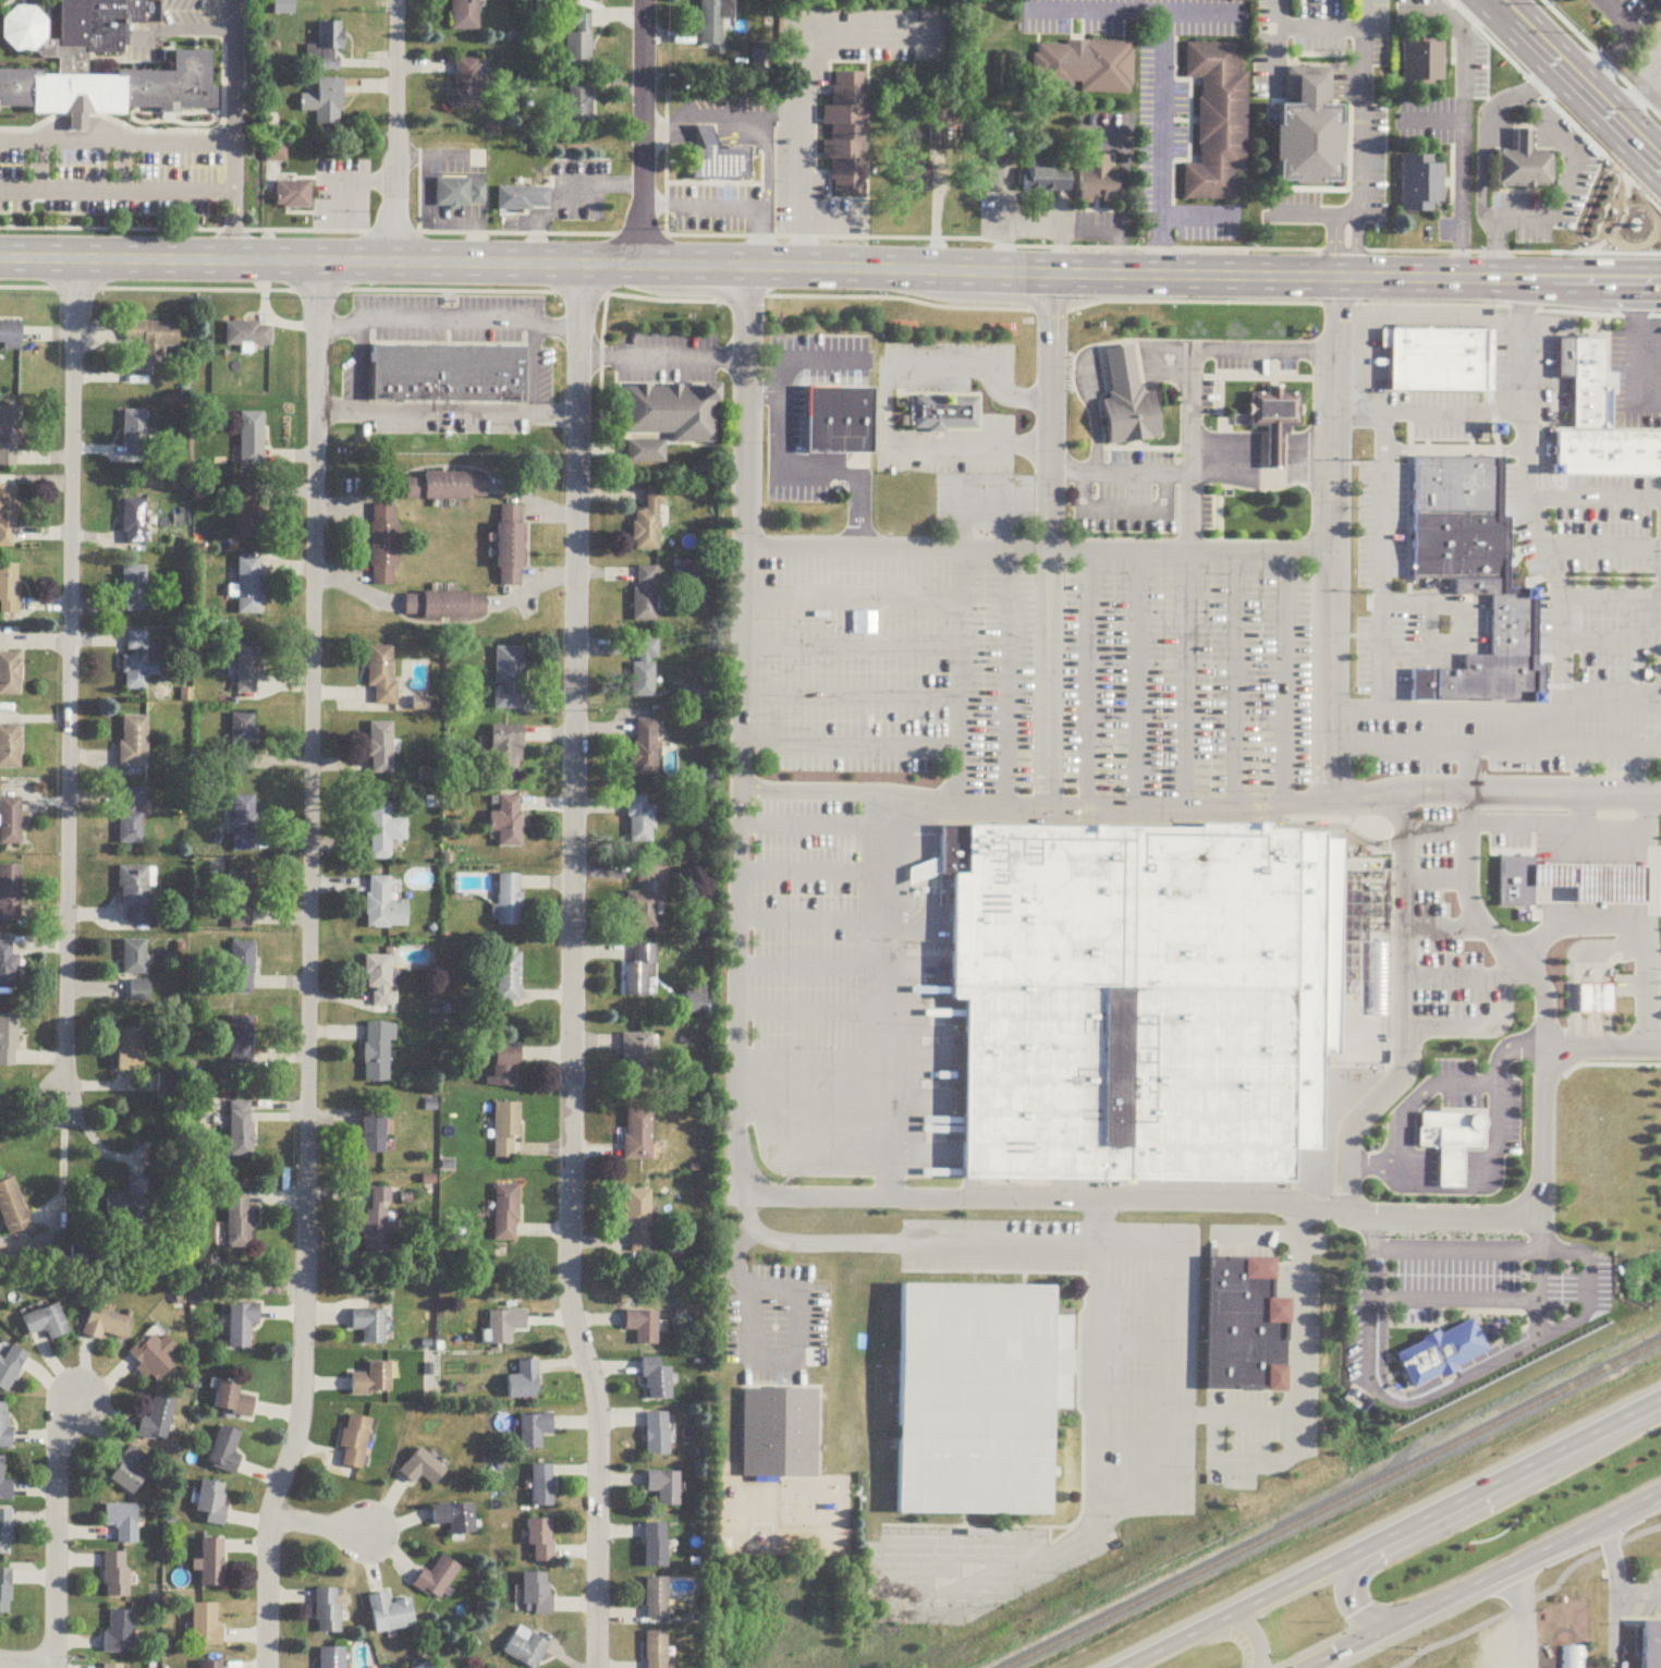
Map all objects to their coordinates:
building: (1644, 0)
road: (27, 1)
road: (5, 3)
road: (1101, 3)
road: (1462, 7)
building: (284, 8)
road: (1620, 10)
road: (1640, 10)
road: (1449, 12)
road: (1360, 13)
parking lot: (1622, 13)
building: (466, 15)
road: (50, 19)
building: (715, 20)
parking lot: (175, 25)
parking lot: (1449, 25)
building: (21, 26)
road: (1303, 26)
road: (181, 27)
building: (90, 31)
building: (579, 41)
building: (330, 46)
building: (1421, 47)
road: (1608, 53)
road: (125, 59)
road: (97, 60)
road: (1640, 61)
parking lot: (1646, 64)
building: (1086, 65)
road: (1595, 65)
road: (805, 68)
road: (235, 71)
road: (1167, 72)
road: (1542, 78)
road: (1578, 81)
building: (467, 84)
parking lot: (1160, 84)
building: (110, 85)
road: (1563, 97)
road: (1631, 97)
building: (326, 102)
building: (579, 106)
road: (730, 111)
road: (785, 112)
road: (75, 118)
building: (1217, 121)
road: (1487, 121)
building: (1305, 122)
road: (663, 126)
road: (692, 129)
road: (51, 130)
road: (396, 131)
road: (709, 131)
road: (741, 131)
road: (1539, 131)
road: (203, 132)
road: (645, 132)
parking lot: (795, 132)
road: (1497, 132)
road: (34, 133)
building: (847, 133)
road: (20, 139)
road: (82, 141)
road: (157, 142)
parking lot: (1368, 145)
building: (276, 151)
road: (1456, 153)
building: (715, 154)
road: (413, 155)
road: (454, 156)
parking lot: (769, 156)
building: (1519, 159)
road: (1358, 160)
road: (39, 165)
road: (124, 166)
road: (234, 166)
road: (766, 168)
parking lot: (1565, 168)
parking lot: (122, 169)
road: (381, 179)
building: (918, 179)
road: (626, 180)
building: (986, 181)
building: (1049, 181)
building: (1097, 181)
parking lot: (1461, 181)
road: (1117, 182)
road: (340, 183)
building: (1420, 183)
parking lot: (1121, 186)
road: (117, 188)
building: (295, 188)
parking lot: (430, 188)
building: (461, 188)
parking lot: (344, 190)
road: (569, 190)
building: (524, 191)
road: (1553, 195)
parking lot: (565, 196)
building: (1600, 198)
road: (660, 203)
road: (721, 204)
road: (1198, 212)
road: (429, 214)
road: (766, 215)
road: (828, 221)
road: (234, 226)
road: (830, 236)
building: (1642, 239)
road: (481, 242)
road: (801, 243)
road: (541, 244)
road: (766, 244)
road: (1163, 244)
road: (1334, 245)
road: (1358, 245)
road: (1494, 248)
road: (1116, 251)
road: (1458, 255)
road: (830, 266)
road: (1528, 294)
road: (1646, 294)
road: (831, 296)
road: (337, 326)
road: (449, 328)
parking lot: (461, 328)
road: (560, 329)
building: (11, 333)
building: (248, 334)
road: (363, 336)
building: (149, 343)
parking lot: (1529, 348)
road: (1528, 351)
road: (1221, 353)
road: (1324, 353)
road: (599, 358)
road: (670, 358)
road: (732, 358)
parking lot: (670, 360)
parking lot: (1370, 360)
building: (1441, 361)
road: (1186, 363)
road: (1646, 365)
road: (534, 366)
parking lot: (1235, 367)
building: (1119, 369)
parking lot: (1633, 369)
building: (449, 373)
road: (1088, 376)
road: (756, 393)
road: (773, 393)
road: (1033, 398)
road: (745, 400)
road: (780, 401)
road: (362, 403)
road: (884, 403)
road: (1052, 406)
parking lot: (944, 409)
parking lot: (806, 410)
building: (1275, 410)
road: (1358, 410)
road: (1439, 410)
road: (1511, 410)
road: (534, 411)
building: (948, 412)
building: (1126, 416)
parking lot: (1445, 416)
road: (468, 417)
building: (667, 419)
building: (840, 421)
road: (1527, 424)
building: (1601, 428)
building: (136, 435)
building: (10, 436)
road: (1383, 436)
building: (252, 439)
road: (1033, 448)
road: (1189, 455)
road: (1094, 468)
road: (1125, 474)
road: (1183, 474)
road: (1063, 475)
building: (448, 487)
road: (968, 491)
road: (1043, 491)
parking lot: (1127, 492)
road: (859, 494)
road: (1573, 499)
road: (536, 502)
parking lot: (986, 503)
road: (355, 504)
road: (1123, 510)
building: (249, 512)
building: (9, 513)
road: (1189, 514)
parking lot: (1194, 514)
building: (649, 521)
building: (134, 523)
road: (1189, 536)
road: (1332, 541)
road: (859, 543)
building: (383, 545)
building: (512, 546)
road: (1602, 549)
road: (1027, 550)
building: (1474, 573)
building: (249, 586)
road: (537, 586)
road: (354, 587)
road: (1381, 587)
building: (10, 589)
building: (134, 589)
building: (645, 594)
road: (1611, 598)
road: (851, 599)
building: (445, 606)
parking lot: (1424, 624)
road: (1429, 625)
road: (1460, 634)
road: (1611, 644)
road: (1561, 646)
road: (850, 648)
road: (1009, 652)
road: (740, 653)
building: (137, 662)
building: (247, 668)
building: (645, 669)
building: (382, 673)
building: (10, 674)
parking lot: (1033, 674)
road: (1049, 677)
road: (1189, 677)
building: (509, 679)
road: (69, 680)
road: (1285, 680)
road: (960, 681)
road: (1088, 682)
road: (1136, 682)
road: (1235, 682)
building: (698, 696)
road: (850, 697)
road: (1344, 713)
road: (1458, 713)
road: (1561, 723)
building: (243, 740)
building: (134, 742)
road: (1343, 745)
road: (848, 746)
road: (1451, 746)
building: (10, 747)
building: (645, 747)
road: (1603, 747)
building: (380, 748)
building: (506, 753)
road: (1547, 770)
road: (737, 780)
road: (841, 790)
road: (1483, 793)
road: (1403, 803)
road: (1583, 811)
road: (1650, 812)
road: (1125, 813)
building: (132, 817)
building: (506, 821)
building: (640, 821)
building: (10, 823)
building: (244, 825)
road: (808, 826)
road: (1332, 828)
road: (1553, 829)
building: (383, 832)
road: (1436, 833)
road: (1592, 844)
road: (1624, 844)
road: (808, 873)
building: (1514, 875)
road: (1546, 875)
road: (1651, 875)
building: (1581, 876)
road: (1434, 881)
building: (1620, 881)
building: (136, 893)
building: (10, 894)
building: (644, 900)
building: (509, 901)
building: (242, 902)
road: (1470, 902)
building: (384, 906)
road: (1593, 908)
road: (1624, 908)
road: (808, 917)
road: (1598, 922)
road: (1403, 926)
road: (1448, 930)
parking lot: (1439, 941)
road: (1608, 946)
road: (1546, 950)
building: (134, 959)
road: (309, 966)
road: (809, 966)
road: (573, 967)
building: (242, 970)
building: (8, 971)
road: (1510, 971)
building: (642, 973)
building: (509, 976)
parking lot: (811, 978)
road: (1652, 983)
building: (379, 984)
building: (139, 993)
building: (1593, 993)
road: (1596, 993)
road: (880, 995)
building: (1146, 999)
road: (809, 1000)
road: (1505, 1002)
road: (1544, 1012)
road: (1596, 1026)
building: (9, 1040)
building: (242, 1042)
road: (1512, 1048)
building: (130, 1051)
building: (378, 1051)
road: (811, 1054)
building: (638, 1060)
road: (1610, 1061)
building: (506, 1067)
road: (1498, 1080)
road: (1498, 1089)
road: (811, 1099)
road: (1419, 1099)
parking lot: (1483, 1101)
road: (1359, 1122)
building: (241, 1131)
building: (506, 1131)
building: (638, 1135)
building: (374, 1136)
road: (832, 1137)
road: (1403, 1141)
building: (1450, 1142)
road: (1392, 1168)
road: (1487, 1168)
road: (1085, 1198)
building: (131, 1205)
building: (13, 1209)
road: (1099, 1212)
building: (506, 1214)
building: (240, 1220)
building: (638, 1222)
building: (376, 1225)
road: (1539, 1226)
road: (1371, 1230)
road: (1285, 1239)
road: (1247, 1240)
parking lot: (1242, 1242)
road: (1297, 1242)
road: (804, 1244)
road: (1535, 1253)
road: (1087, 1259)
road: (737, 1263)
road: (1371, 1269)
parking lot: (1471, 1295)
road: (1144, 1298)
road: (1481, 1298)
road: (1538, 1318)
parking lot: (783, 1319)
building: (46, 1323)
building: (243, 1325)
building: (107, 1326)
building: (372, 1326)
building: (506, 1326)
building: (645, 1327)
building: (1247, 1327)
road: (1370, 1338)
road: (1144, 1347)
building: (1438, 1350)
road: (806, 1353)
building: (155, 1356)
road: (1500, 1359)
road: (1098, 1361)
building: (10, 1368)
building: (659, 1380)
building: (375, 1381)
building: (526, 1381)
road: (1294, 1389)
road: (1143, 1393)
building: (982, 1398)
building: (234, 1400)
road: (1086, 1401)
road: (1414, 1401)
parking lot: (1270, 1407)
railway: (1530, 1407)
road: (1193, 1416)
road: (1204, 1416)
building: (158, 1422)
building: (5, 1426)
building: (536, 1430)
building: (782, 1434)
building: (659, 1435)
road: (1143, 1441)
building: (357, 1442)
building: (227, 1452)
road: (1250, 1464)
parking lot: (1141, 1465)
building: (424, 1470)
building: (130, 1472)
building: (4, 1485)
building: (545, 1487)
building: (667, 1488)
road: (1184, 1500)
building: (215, 1502)
building: (456, 1519)
building: (124, 1523)
road: (1451, 1524)
road: (319, 1527)
building: (5, 1533)
road: (1392, 1533)
road: (58, 1534)
building: (544, 1542)
building: (658, 1546)
road: (1609, 1553)
building: (213, 1563)
railway: (1202, 1570)
building: (118, 1576)
building: (439, 1580)
road: (1482, 1580)
road: (1495, 1587)
road: (1613, 1590)
building: (5, 1592)
building: (539, 1595)
road: (1637, 1596)
building: (658, 1599)
parking lot: (1635, 1600)
road: (1612, 1609)
building: (329, 1612)
building: (392, 1616)
building: (207, 1626)
parking lot: (1503, 1627)
road: (1512, 1631)
building: (121, 1633)
road: (1254, 1634)
road: (1612, 1645)
building: (1652, 1645)
building: (528, 1649)
building: (657, 1651)
building: (332, 1658)
road: (27, 1664)
building: (1450, 1664)
building: (210, 1666)
building: (113, 1667)
building: (492, 1667)

